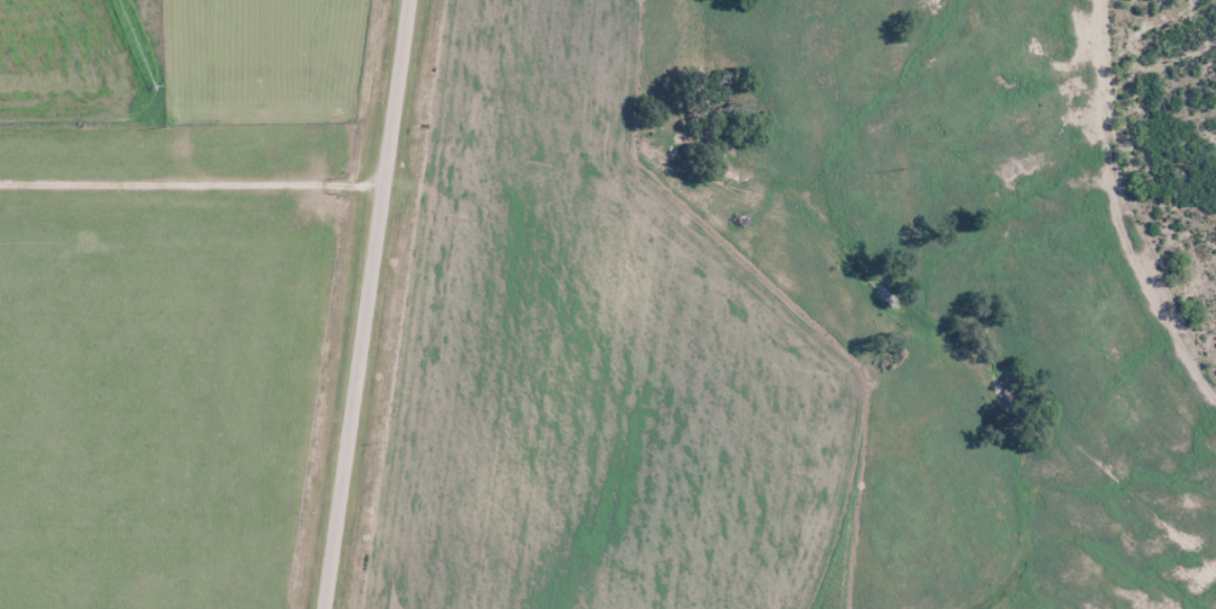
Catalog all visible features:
road: (191, 184)
road: (366, 304)

